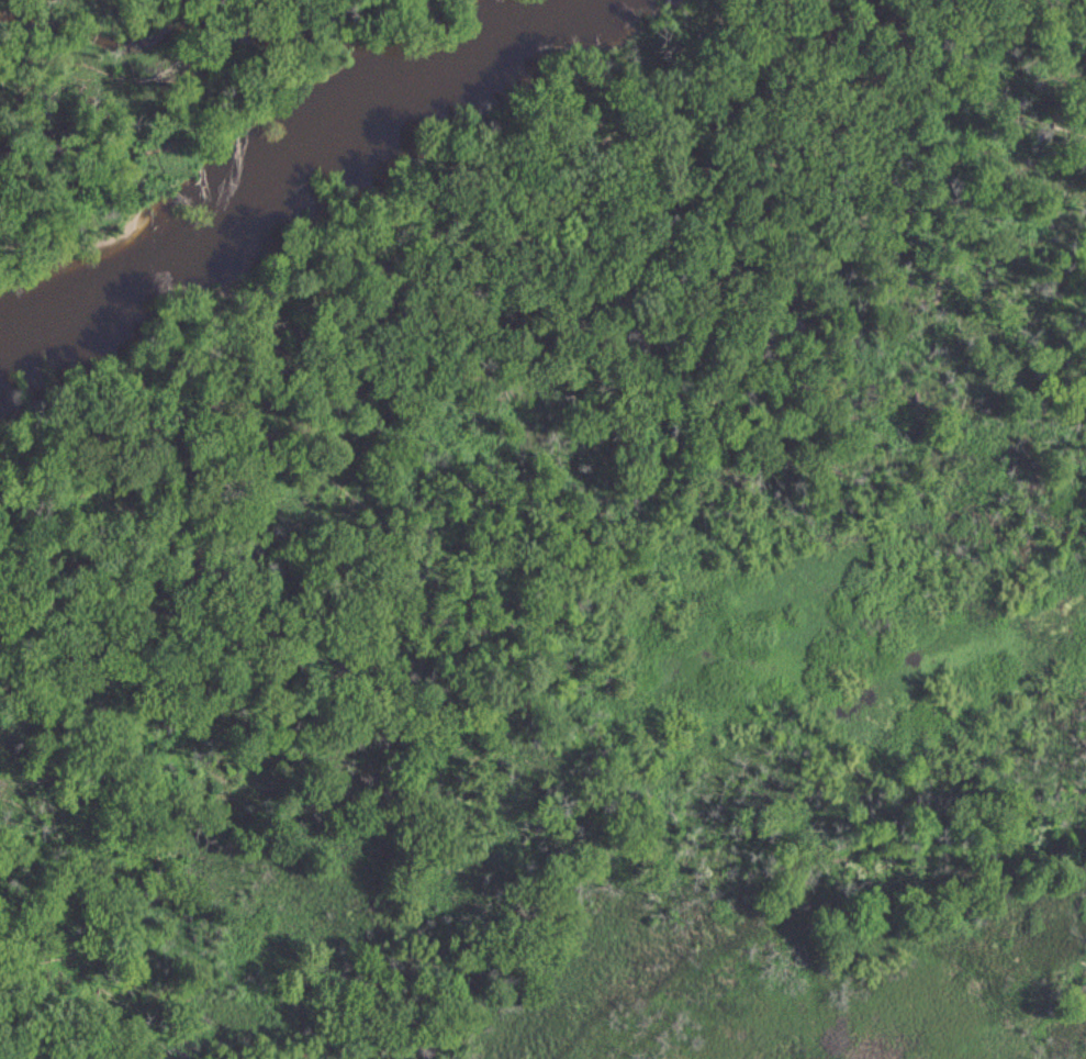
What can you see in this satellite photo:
river: (296, 191)

